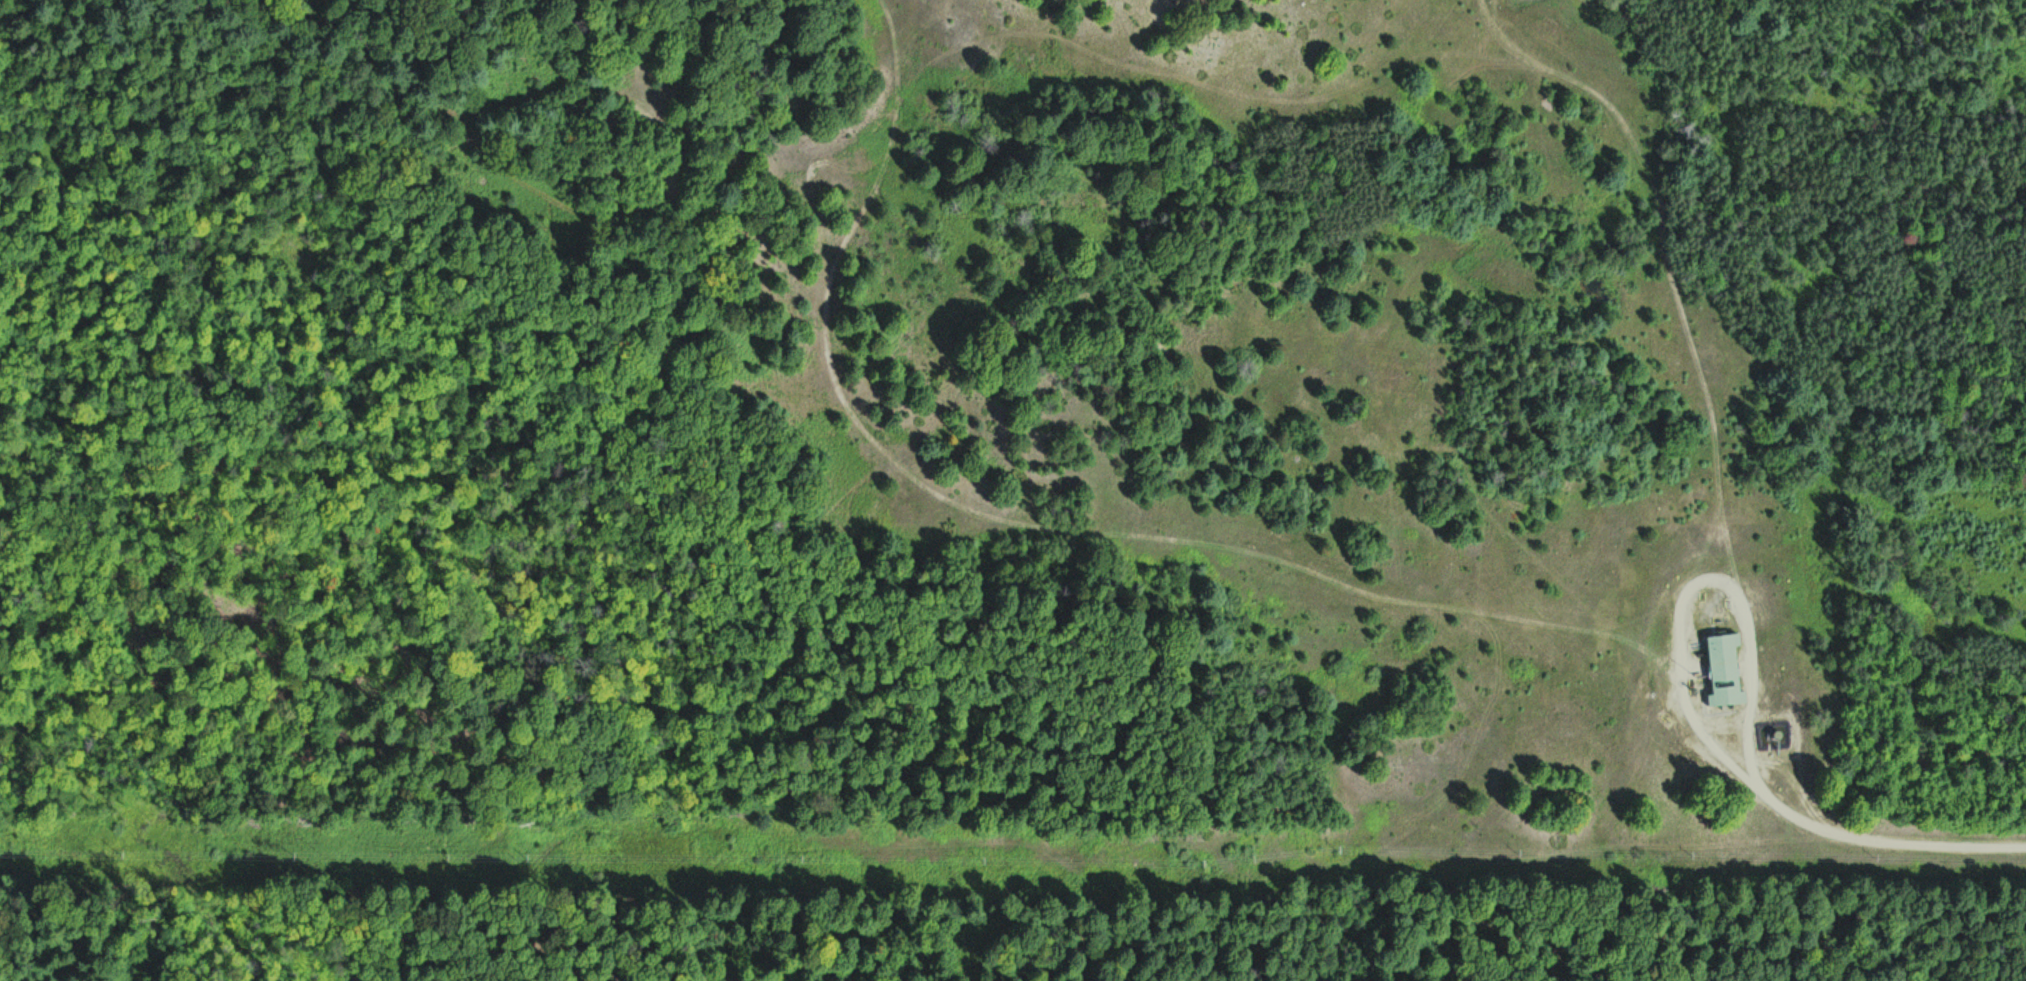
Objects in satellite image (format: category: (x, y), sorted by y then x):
building: (1726, 670)

